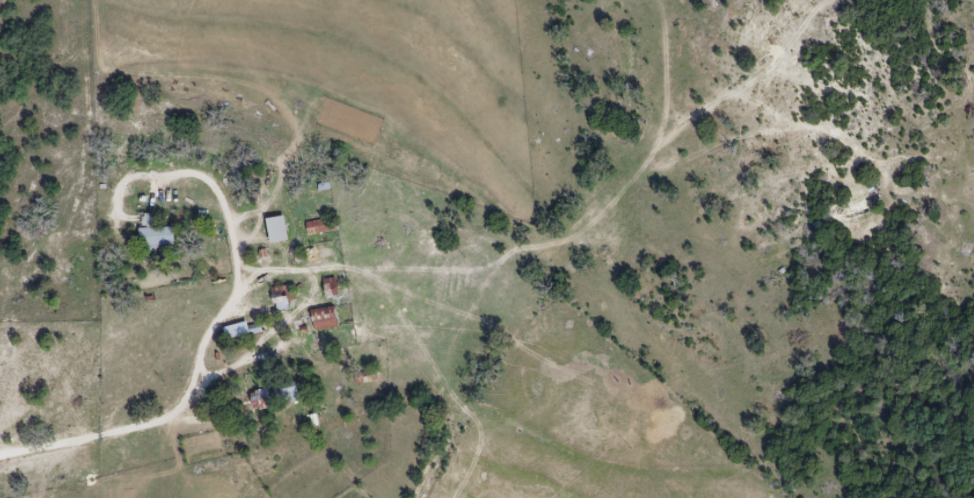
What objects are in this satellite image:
building: (321, 227)
building: (277, 230)
building: (154, 233)
building: (330, 288)
building: (283, 300)
building: (323, 319)
road: (127, 388)
building: (275, 397)

